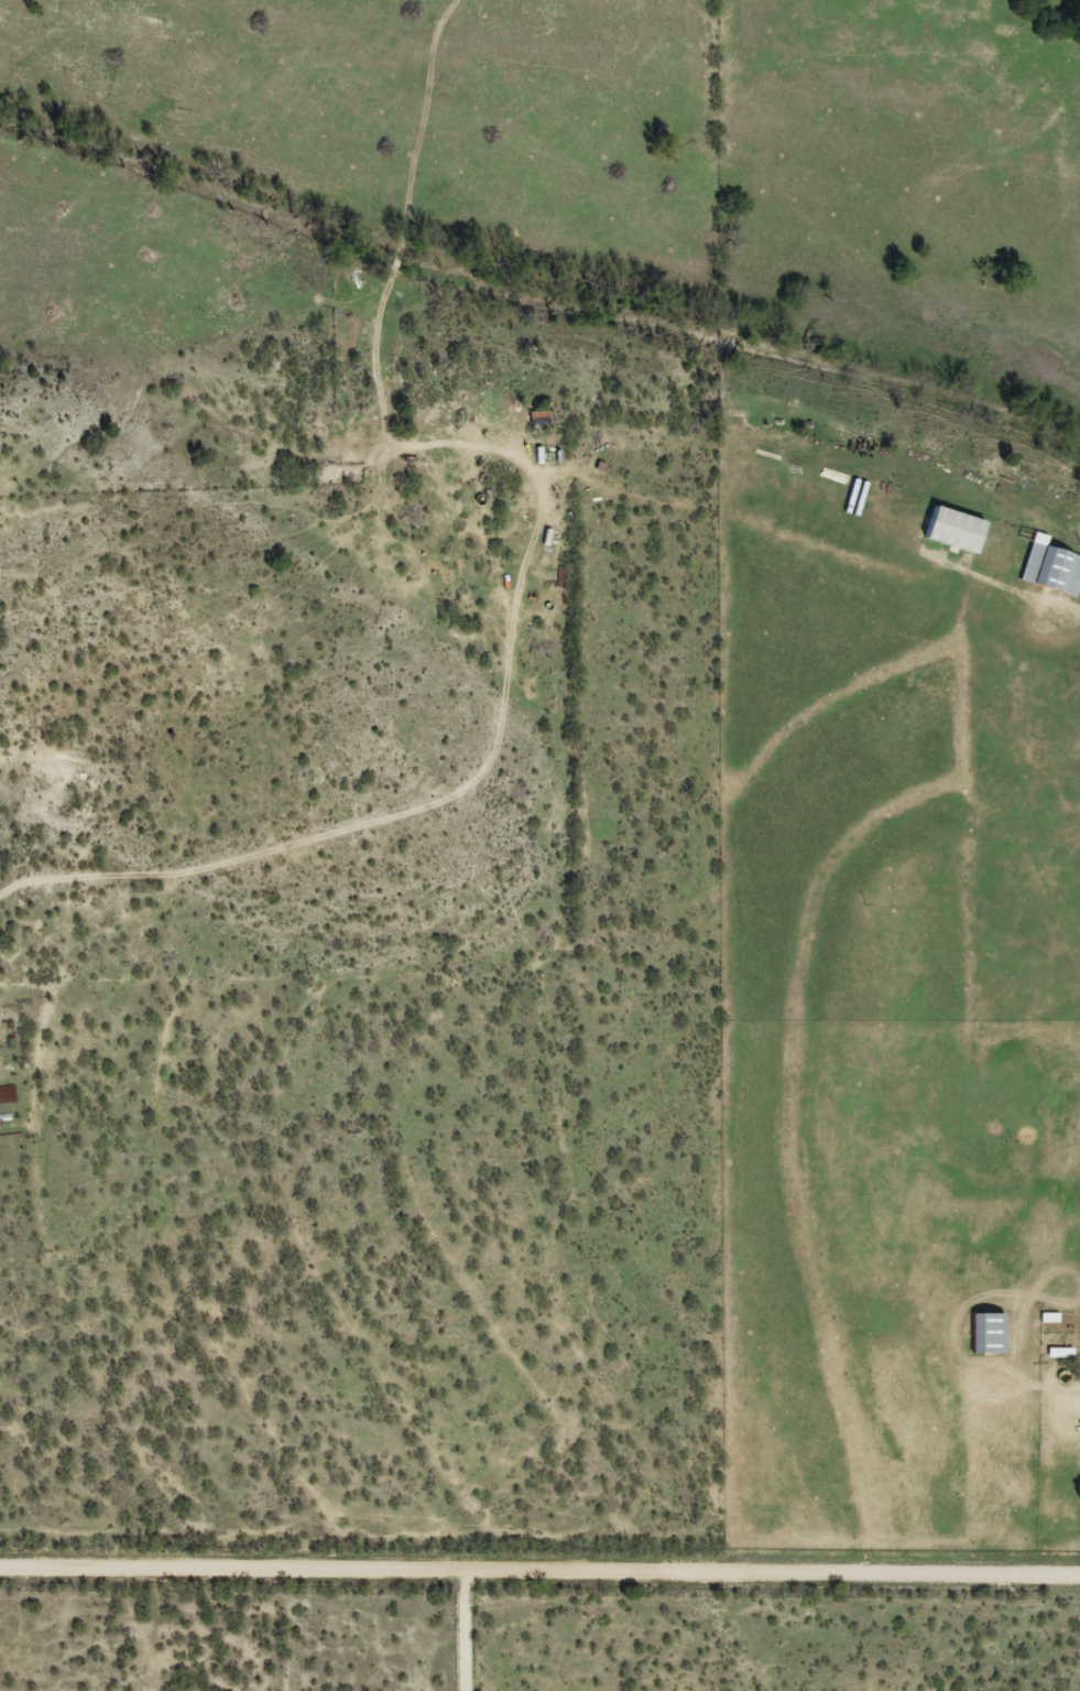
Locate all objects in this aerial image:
building: (1050, 566)
road: (505, 725)
building: (1055, 1327)
building: (986, 1332)
building: (1059, 1351)
road: (539, 1574)
road: (143, 1633)
road: (462, 1633)

